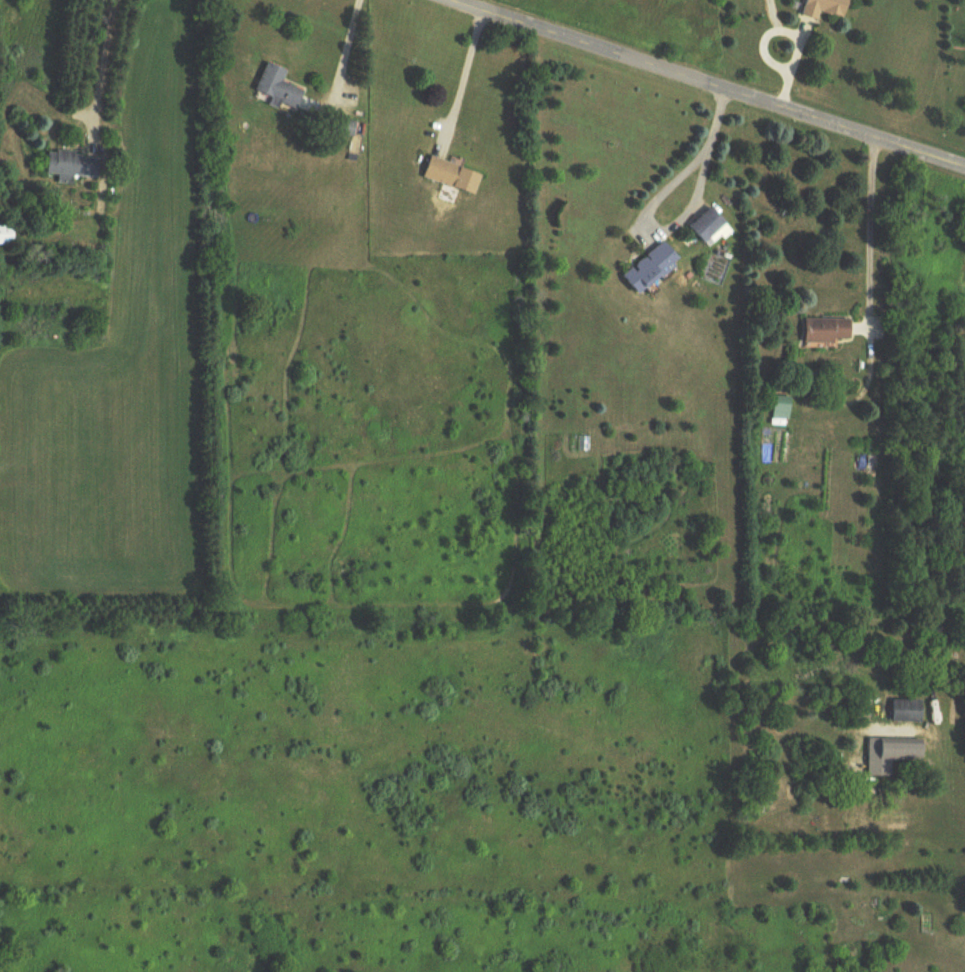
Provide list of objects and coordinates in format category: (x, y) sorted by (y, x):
building: (827, 8)
road: (347, 41)
road: (97, 66)
road: (462, 81)
road: (705, 84)
building: (279, 88)
building: (72, 165)
building: (453, 176)
road: (655, 198)
building: (710, 227)
building: (964, 227)
road: (869, 233)
building: (7, 235)
building: (652, 268)
building: (828, 330)
building: (780, 410)
building: (908, 713)

